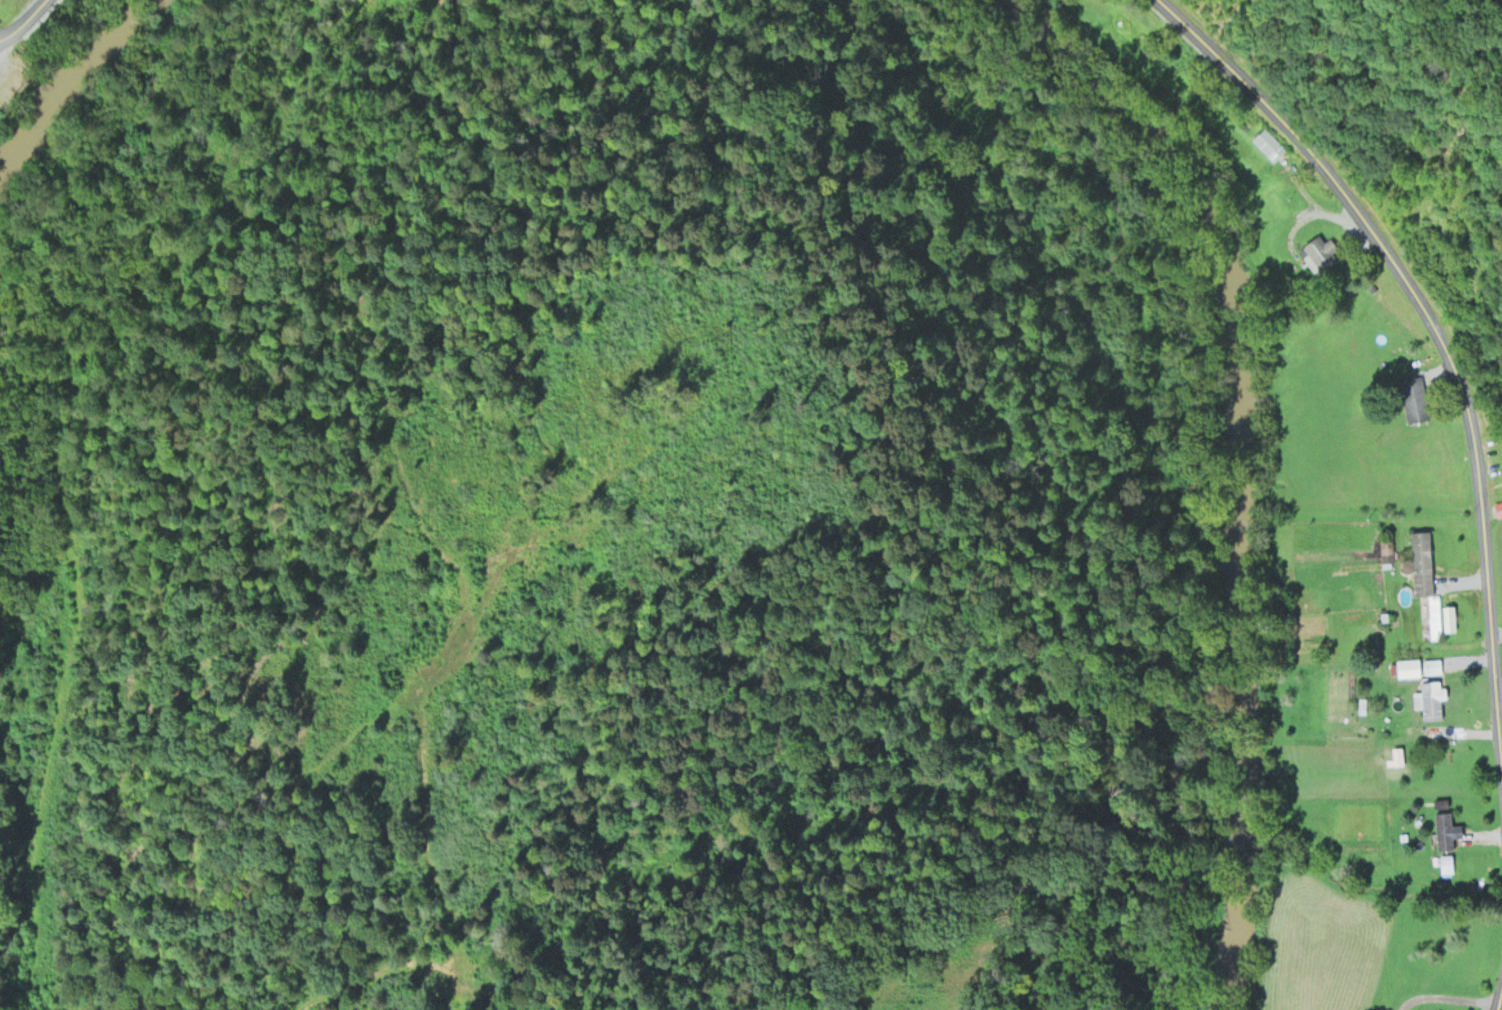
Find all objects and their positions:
road: (22, 20)
building: (1135, 30)
river: (63, 87)
building: (1268, 143)
building: (1320, 253)
building: (1369, 287)
road: (1432, 326)
building: (1414, 397)
river: (1256, 460)
building: (1498, 506)
building: (1387, 549)
building: (1423, 560)
building: (1436, 614)
building: (1384, 615)
building: (1409, 666)
building: (1433, 666)
building: (1433, 699)
building: (1388, 740)
building: (1440, 757)
building: (1445, 829)
building: (1447, 861)
road: (1448, 992)
road: (1500, 1002)

